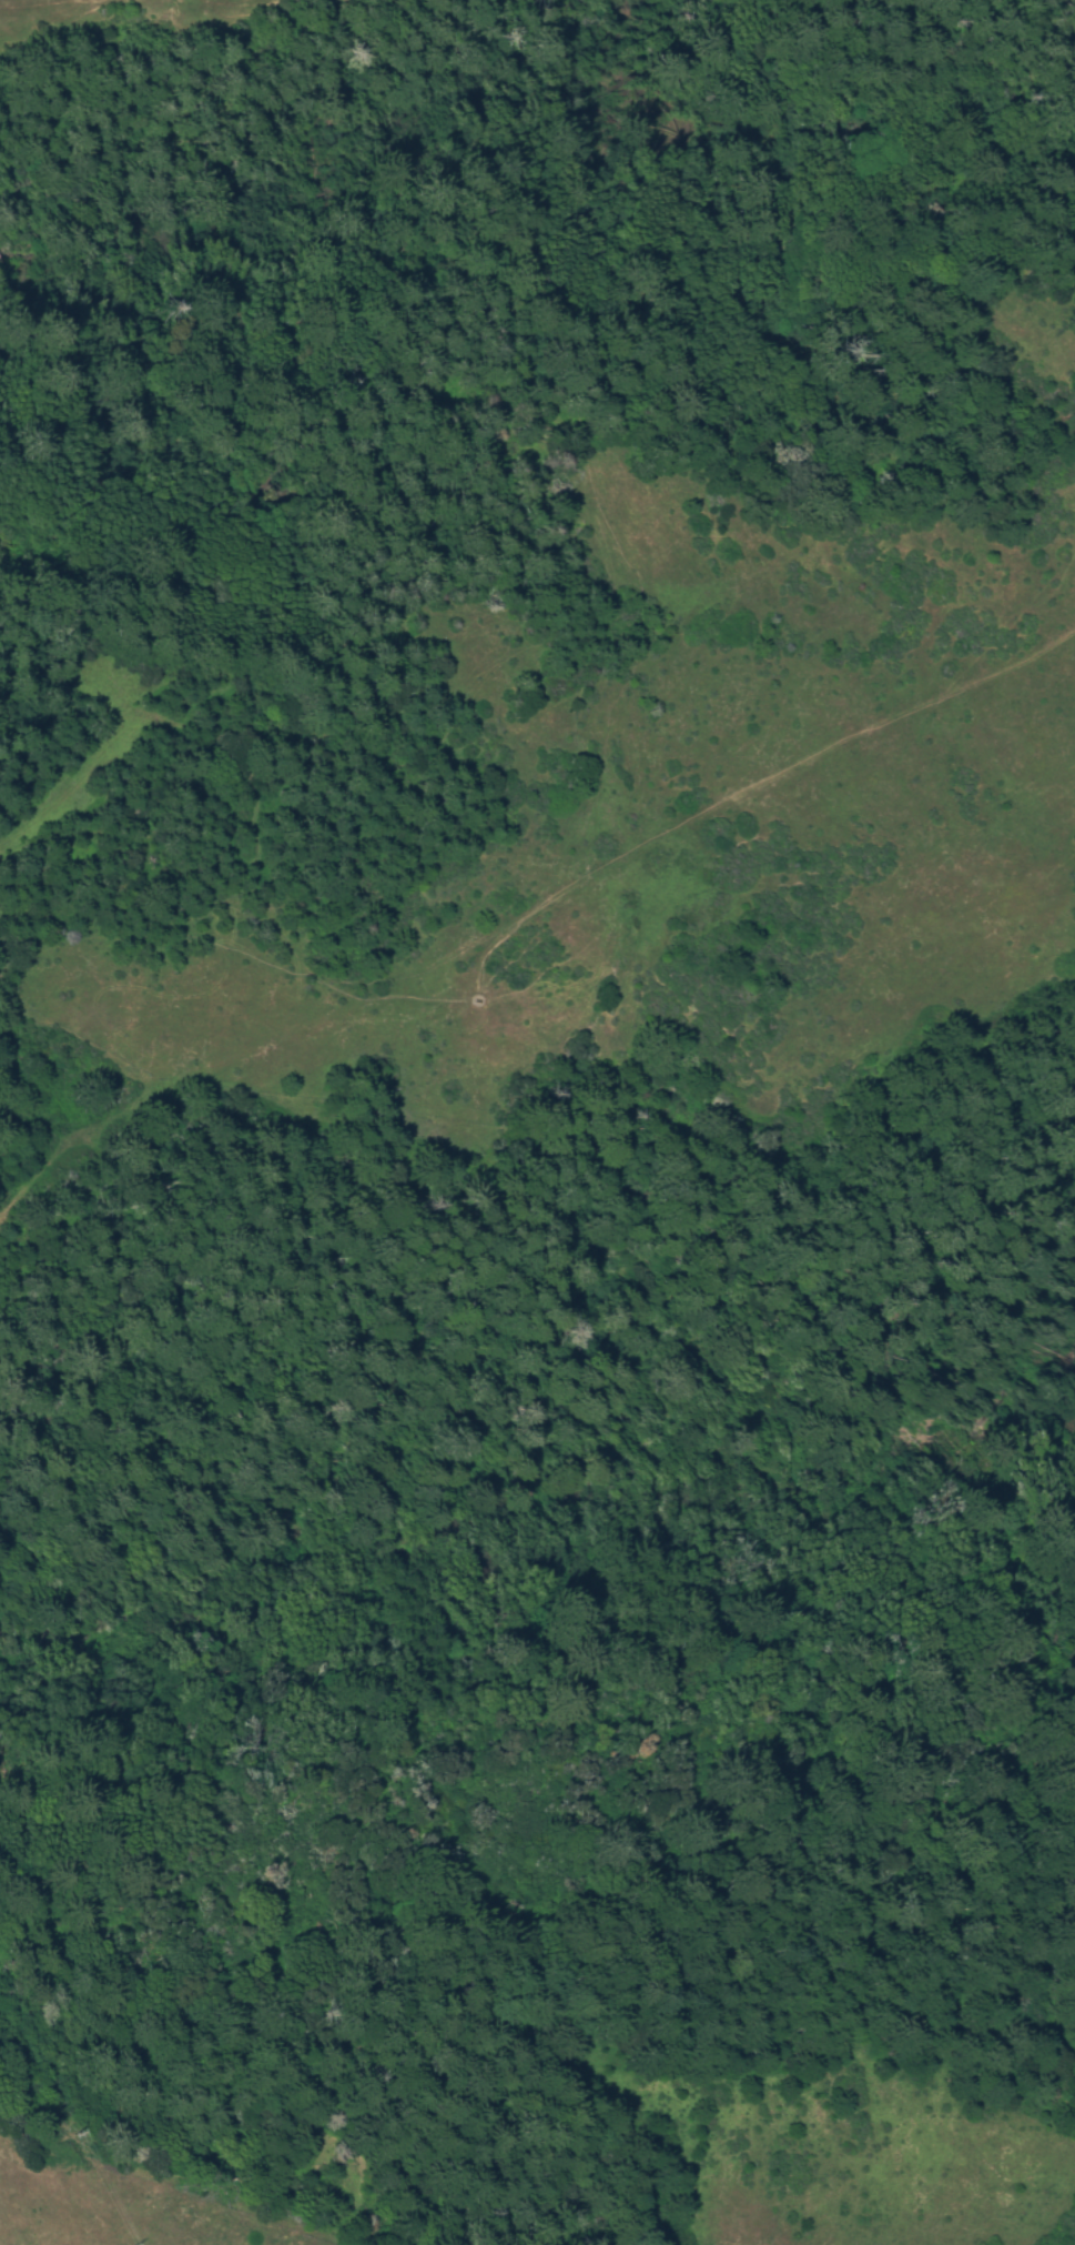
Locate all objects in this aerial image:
road: (1042, 2216)

